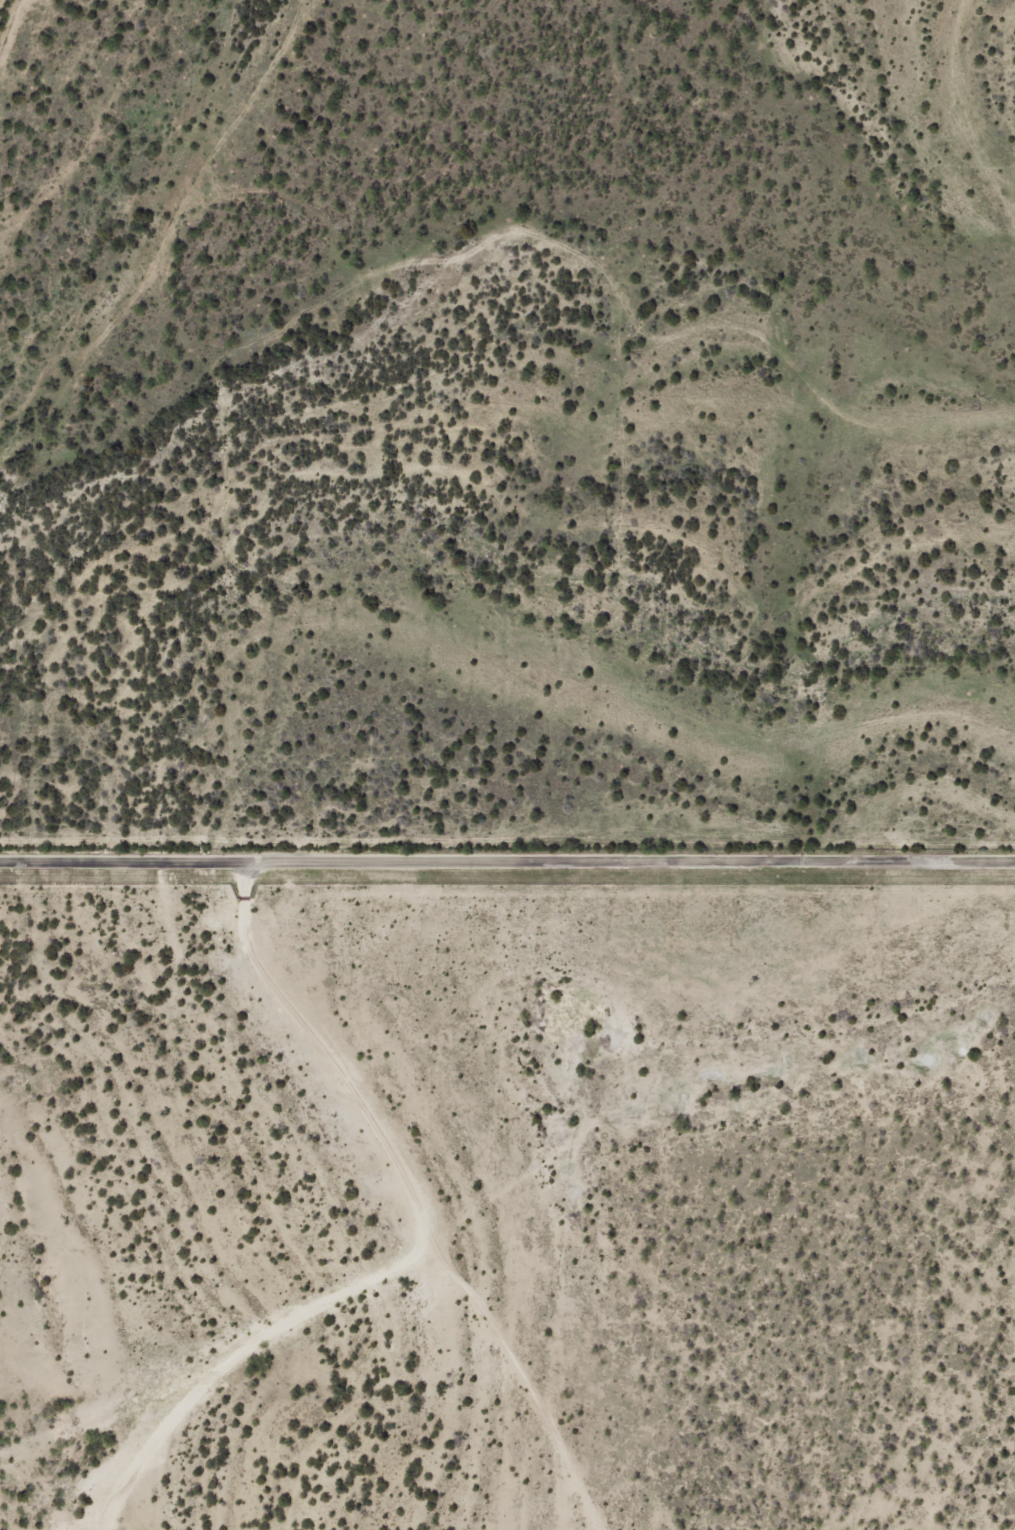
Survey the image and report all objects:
road: (507, 857)
road: (360, 1295)

